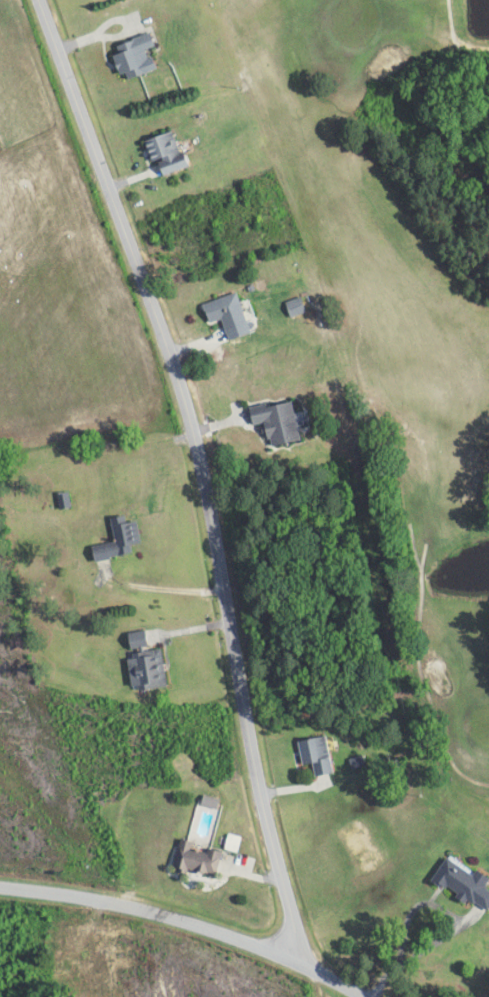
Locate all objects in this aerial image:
building: (133, 57)
building: (167, 153)
building: (295, 307)
building: (227, 315)
building: (275, 421)
road: (210, 470)
building: (116, 540)
building: (145, 670)
building: (316, 755)
building: (208, 802)
building: (195, 860)
building: (463, 884)
road: (188, 922)

